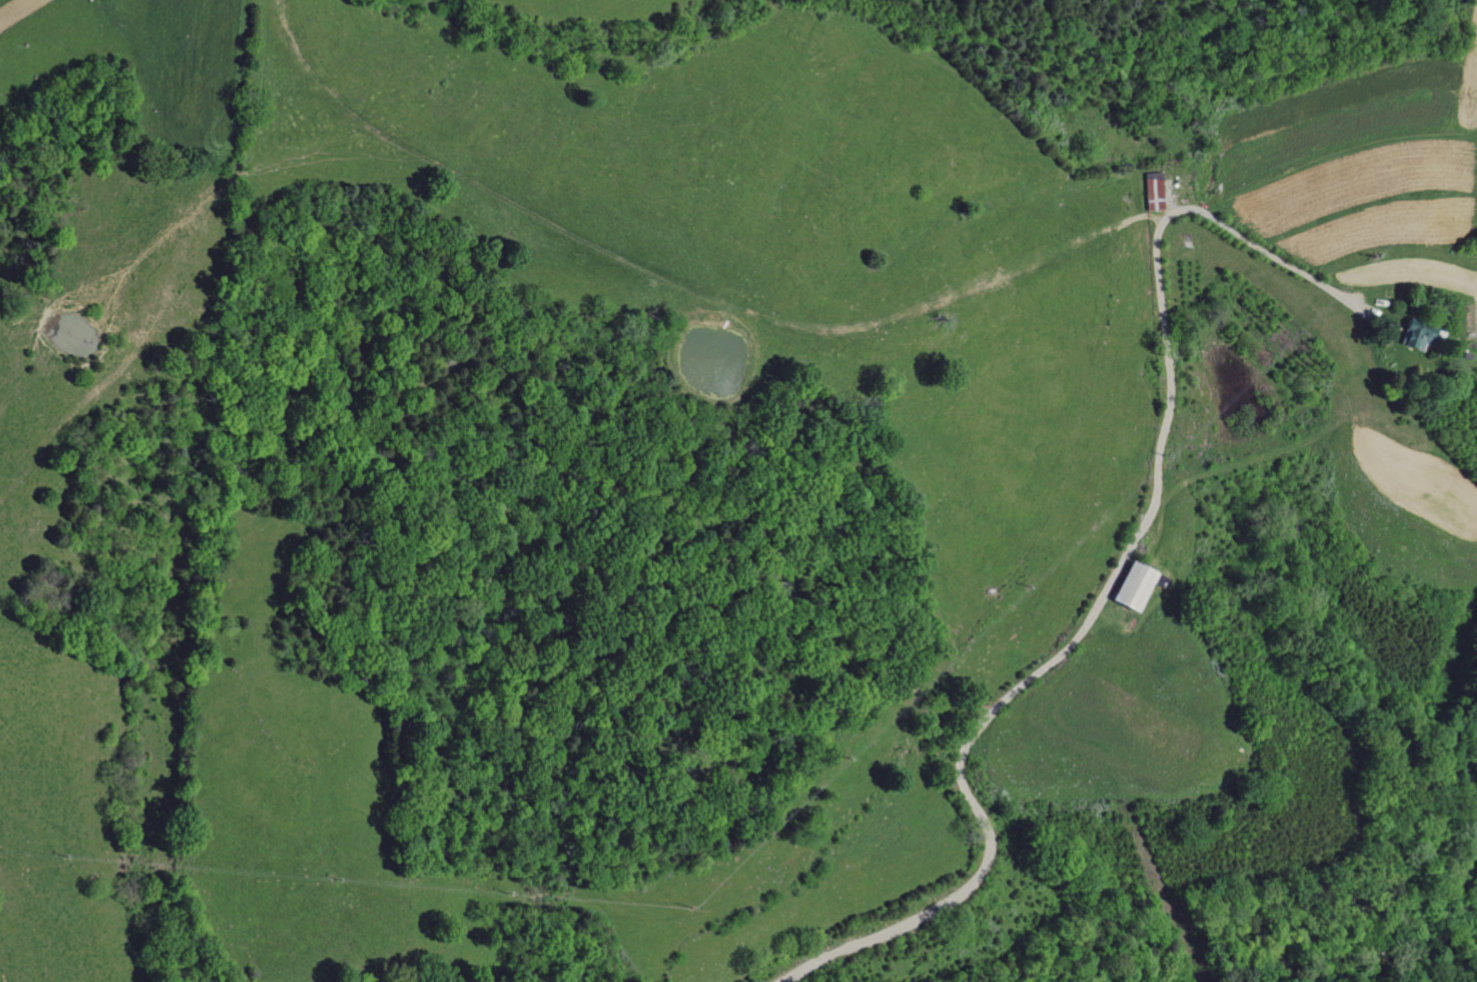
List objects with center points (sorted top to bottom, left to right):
building: (1154, 191)
building: (1420, 336)
road: (1115, 575)
building: (1132, 587)

